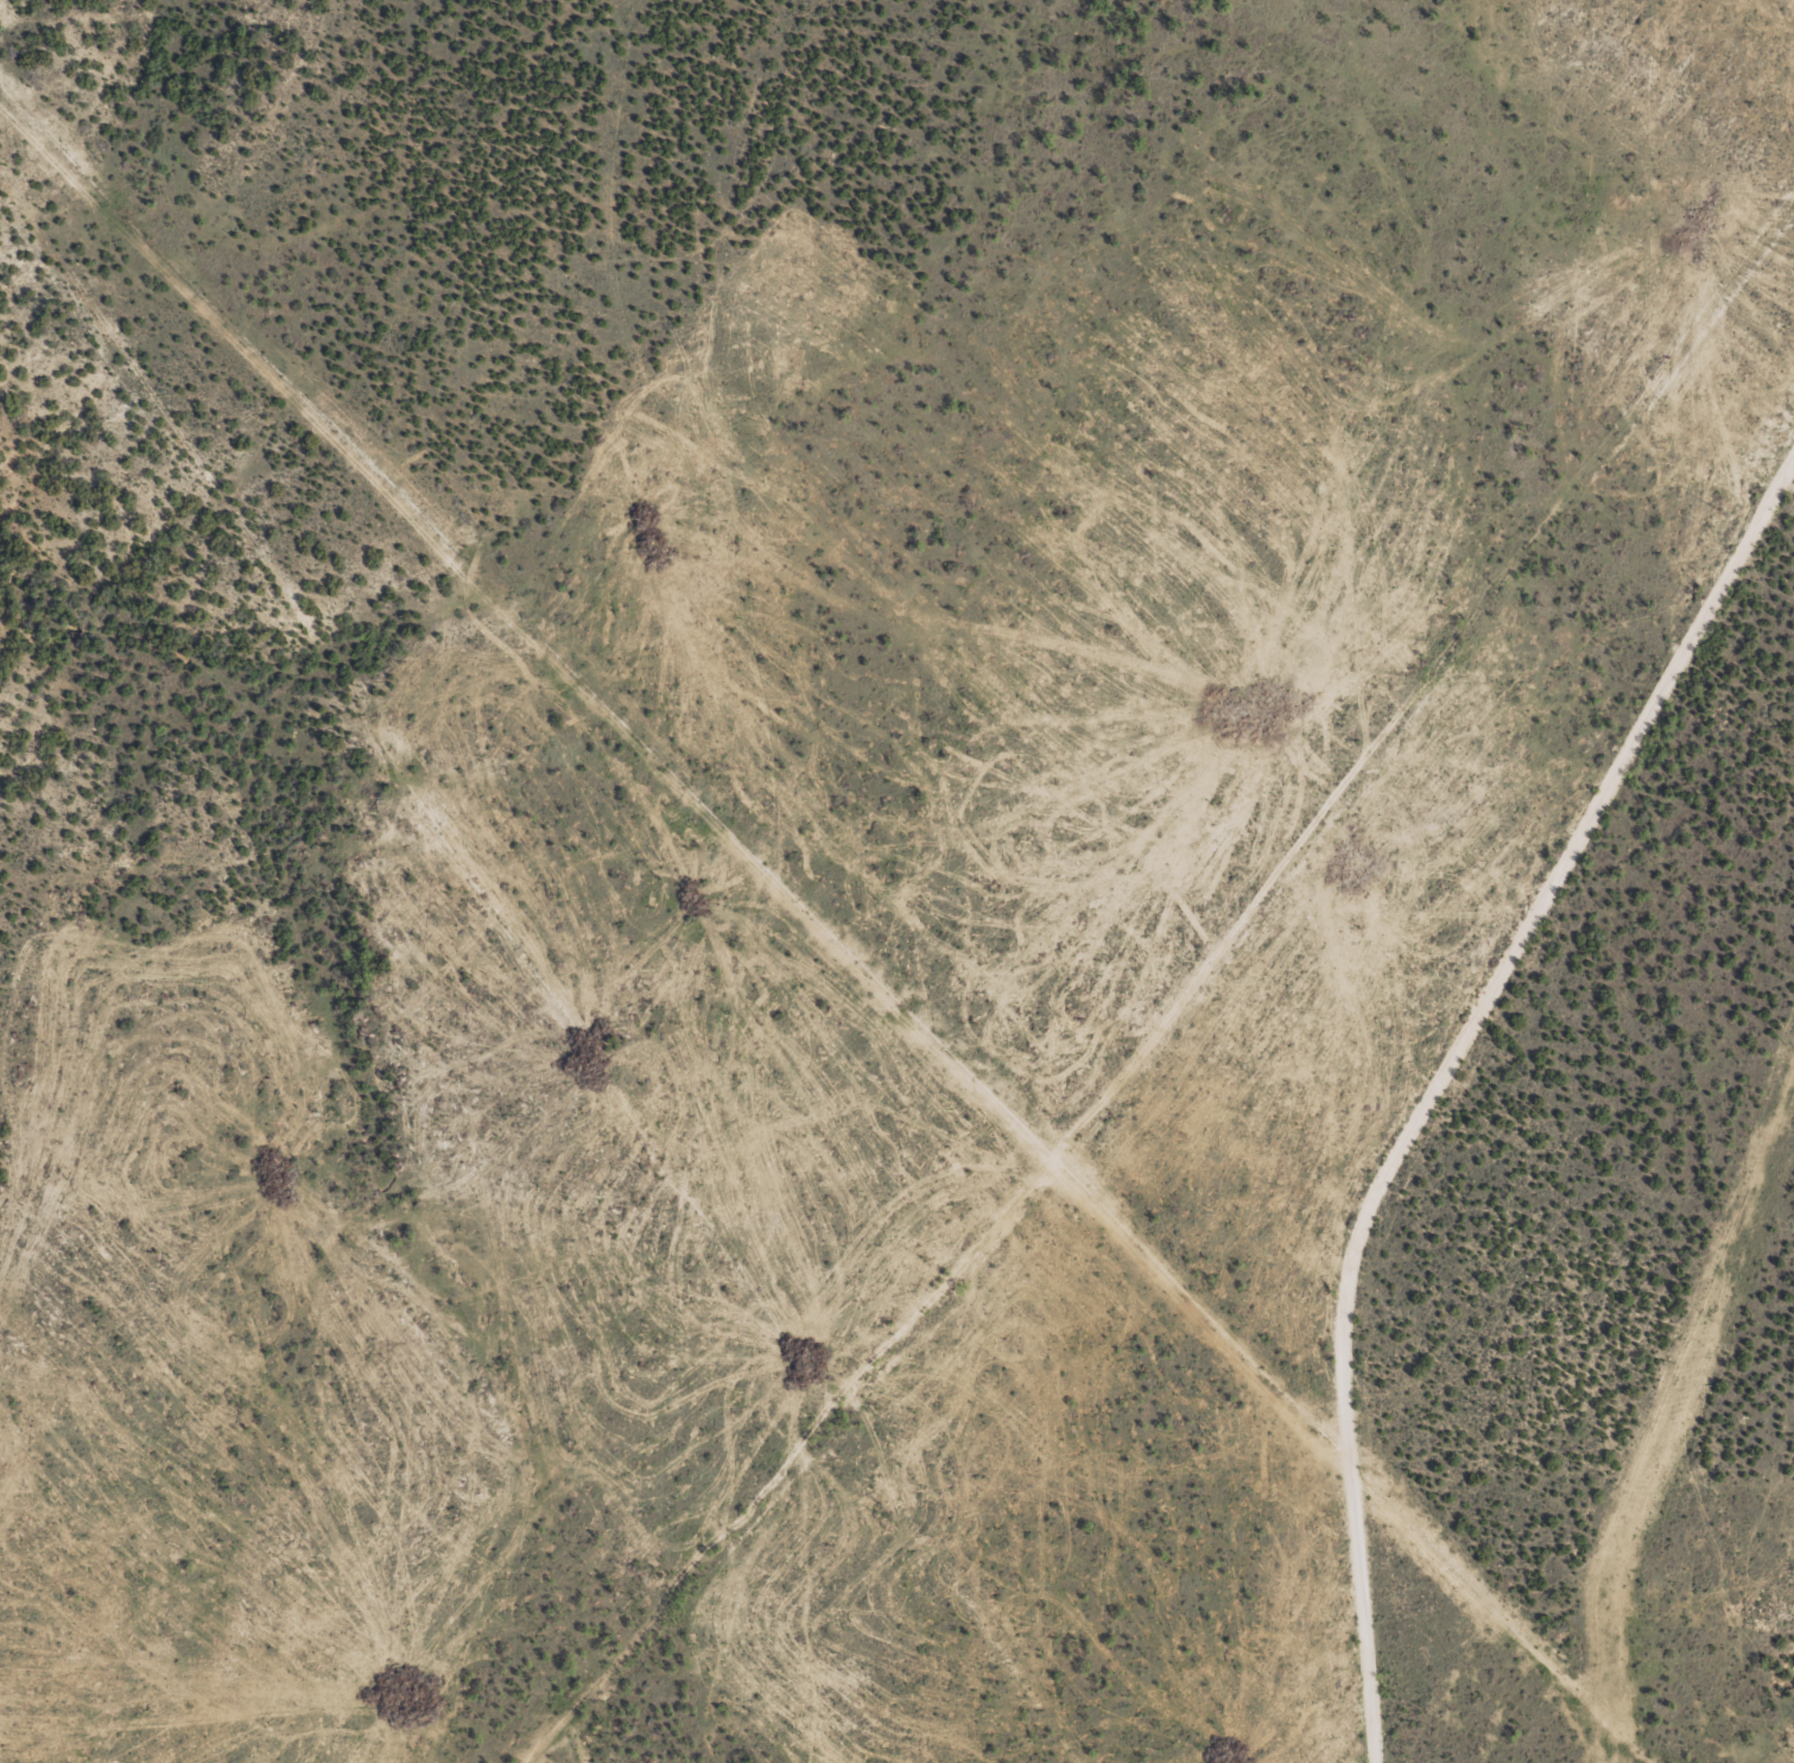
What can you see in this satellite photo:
road: (1451, 1104)

